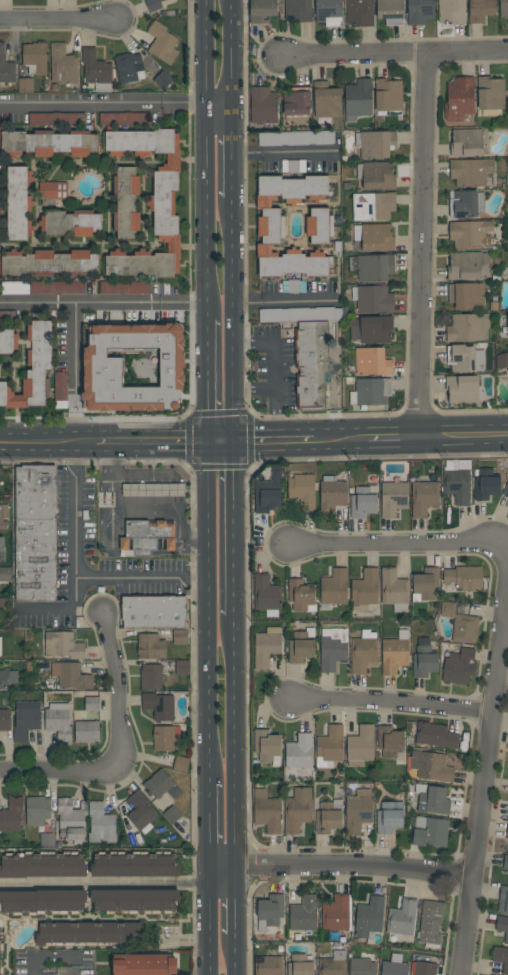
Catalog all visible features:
building: (153, 5)
building: (503, 8)
building: (262, 10)
building: (298, 10)
building: (481, 10)
building: (452, 11)
building: (329, 12)
building: (360, 12)
building: (391, 12)
building: (420, 12)
road: (56, 19)
building: (162, 42)
road: (397, 51)
road: (233, 55)
building: (35, 58)
building: (63, 65)
building: (6, 67)
building: (129, 68)
building: (97, 70)
building: (163, 80)
building: (25, 85)
building: (490, 95)
building: (388, 97)
building: (358, 99)
building: (459, 99)
building: (327, 100)
road: (220, 102)
road: (103, 103)
building: (297, 104)
building: (263, 105)
building: (56, 119)
building: (125, 119)
building: (296, 138)
building: (466, 142)
building: (48, 143)
building: (377, 144)
road: (282, 150)
road: (233, 155)
road: (207, 158)
building: (293, 166)
building: (472, 172)
building: (377, 175)
building: (52, 192)
building: (126, 203)
building: (19, 204)
building: (151, 204)
building: (466, 204)
building: (373, 206)
building: (0, 207)
building: (71, 223)
building: (319, 226)
building: (271, 227)
building: (471, 234)
building: (375, 237)
road: (420, 242)
building: (48, 263)
building: (467, 265)
building: (372, 267)
building: (294, 286)
building: (58, 287)
building: (125, 287)
building: (467, 296)
road: (281, 298)
building: (373, 299)
road: (103, 304)
building: (300, 314)
building: (134, 316)
building: (2, 317)
road: (233, 319)
building: (507, 320)
building: (468, 328)
building: (371, 329)
building: (464, 358)
building: (89, 361)
building: (502, 361)
building: (372, 362)
building: (29, 365)
building: (312, 365)
road: (275, 369)
building: (507, 371)
road: (75, 372)
road: (206, 379)
building: (61, 386)
building: (507, 386)
building: (463, 389)
road: (254, 390)
building: (371, 392)
road: (462, 433)
road: (391, 435)
road: (340, 436)
road: (272, 438)
traffic signals: (206, 440)
road: (219, 440)
traffic signals: (233, 440)
road: (150, 441)
road: (47, 442)
building: (486, 484)
building: (457, 485)
building: (137, 490)
building: (174, 490)
building: (303, 491)
building: (506, 492)
building: (268, 494)
building: (332, 496)
building: (393, 498)
building: (424, 498)
building: (107, 500)
building: (364, 501)
building: (154, 509)
building: (3, 516)
road: (233, 526)
road: (112, 531)
building: (36, 533)
building: (147, 536)
road: (399, 543)
building: (2, 549)
building: (5, 574)
road: (76, 576)
building: (464, 578)
building: (425, 584)
building: (333, 589)
building: (365, 590)
building: (394, 590)
building: (266, 595)
building: (301, 595)
building: (5, 605)
building: (447, 609)
road: (67, 610)
road: (207, 610)
building: (154, 612)
building: (465, 629)
building: (180, 637)
building: (63, 645)
building: (0, 646)
building: (151, 646)
building: (301, 646)
building: (266, 649)
building: (333, 650)
building: (395, 653)
building: (364, 655)
building: (424, 659)
building: (459, 666)
building: (183, 667)
building: (71, 675)
building: (151, 677)
building: (7, 678)
road: (117, 694)
building: (92, 704)
building: (159, 706)
road: (390, 707)
building: (26, 719)
building: (5, 720)
building: (59, 722)
building: (87, 731)
building: (435, 735)
building: (163, 738)
road: (234, 740)
building: (390, 741)
building: (331, 744)
building: (361, 746)
building: (267, 747)
building: (299, 752)
road: (488, 759)
building: (181, 764)
building: (431, 766)
road: (54, 768)
building: (162, 785)
building: (433, 799)
building: (296, 809)
building: (37, 810)
building: (267, 811)
building: (358, 811)
building: (141, 812)
building: (11, 814)
building: (171, 814)
building: (328, 816)
building: (389, 817)
building: (507, 819)
building: (71, 821)
road: (208, 823)
building: (101, 824)
building: (429, 831)
building: (507, 833)
building: (47, 840)
building: (505, 862)
building: (43, 865)
building: (135, 865)
road: (342, 870)
road: (108, 884)
building: (503, 899)
road: (235, 900)
building: (134, 901)
building: (42, 902)
building: (270, 911)
building: (304, 913)
building: (336, 913)
building: (369, 919)
building: (401, 919)
road: (208, 920)
building: (431, 923)
building: (503, 926)
building: (87, 934)
building: (1, 947)
road: (234, 954)
building: (501, 957)
road: (54, 958)
building: (333, 964)
building: (145, 965)
building: (268, 965)
building: (300, 965)
building: (395, 966)
building: (362, 967)
building: (425, 968)

